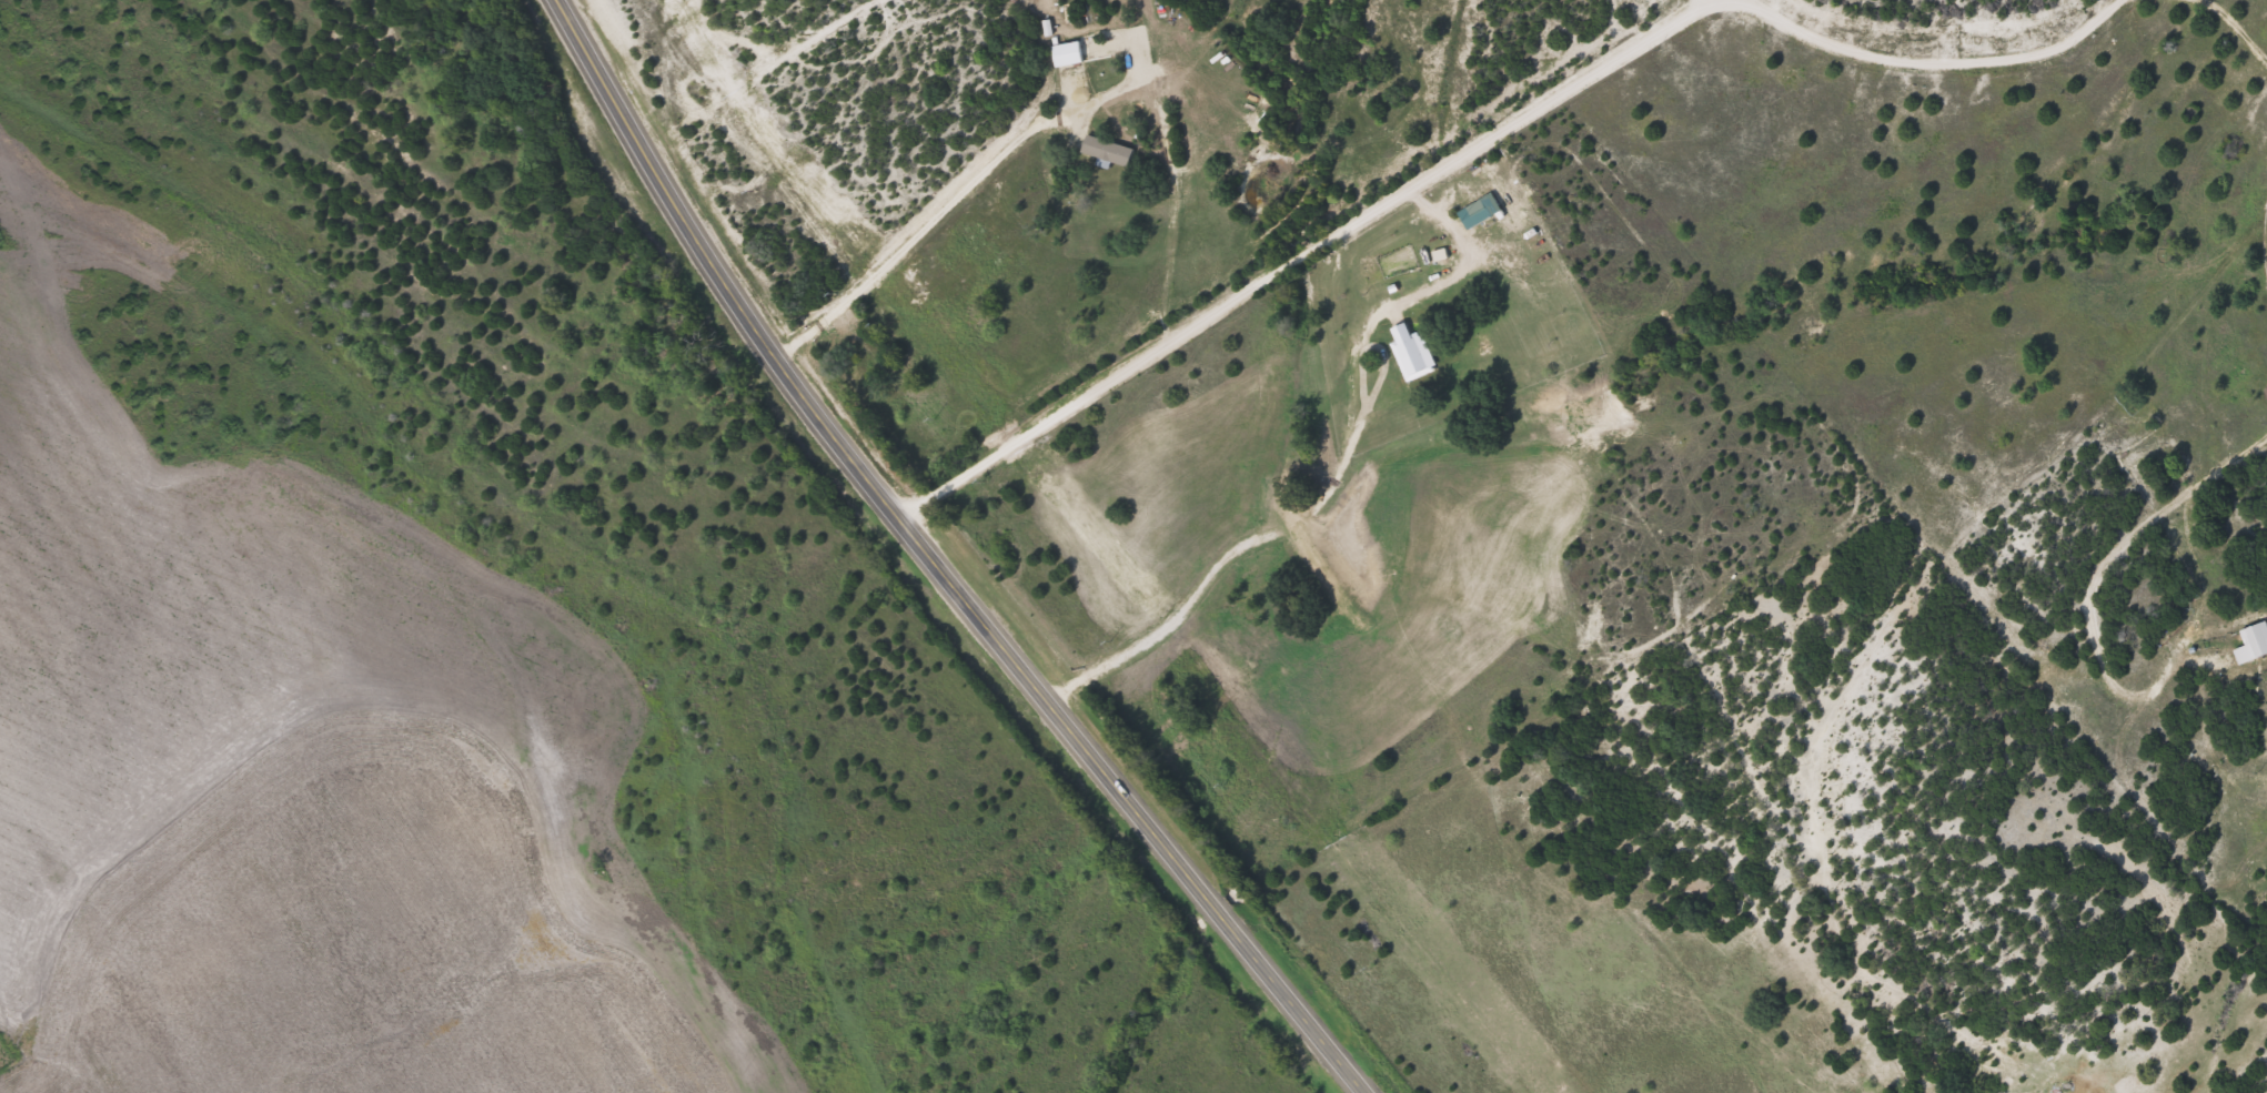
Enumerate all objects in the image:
building: (1068, 51)
building: (1108, 148)
building: (1475, 210)
building: (1409, 346)
road: (945, 563)
building: (2258, 636)
road: (1872, 657)

